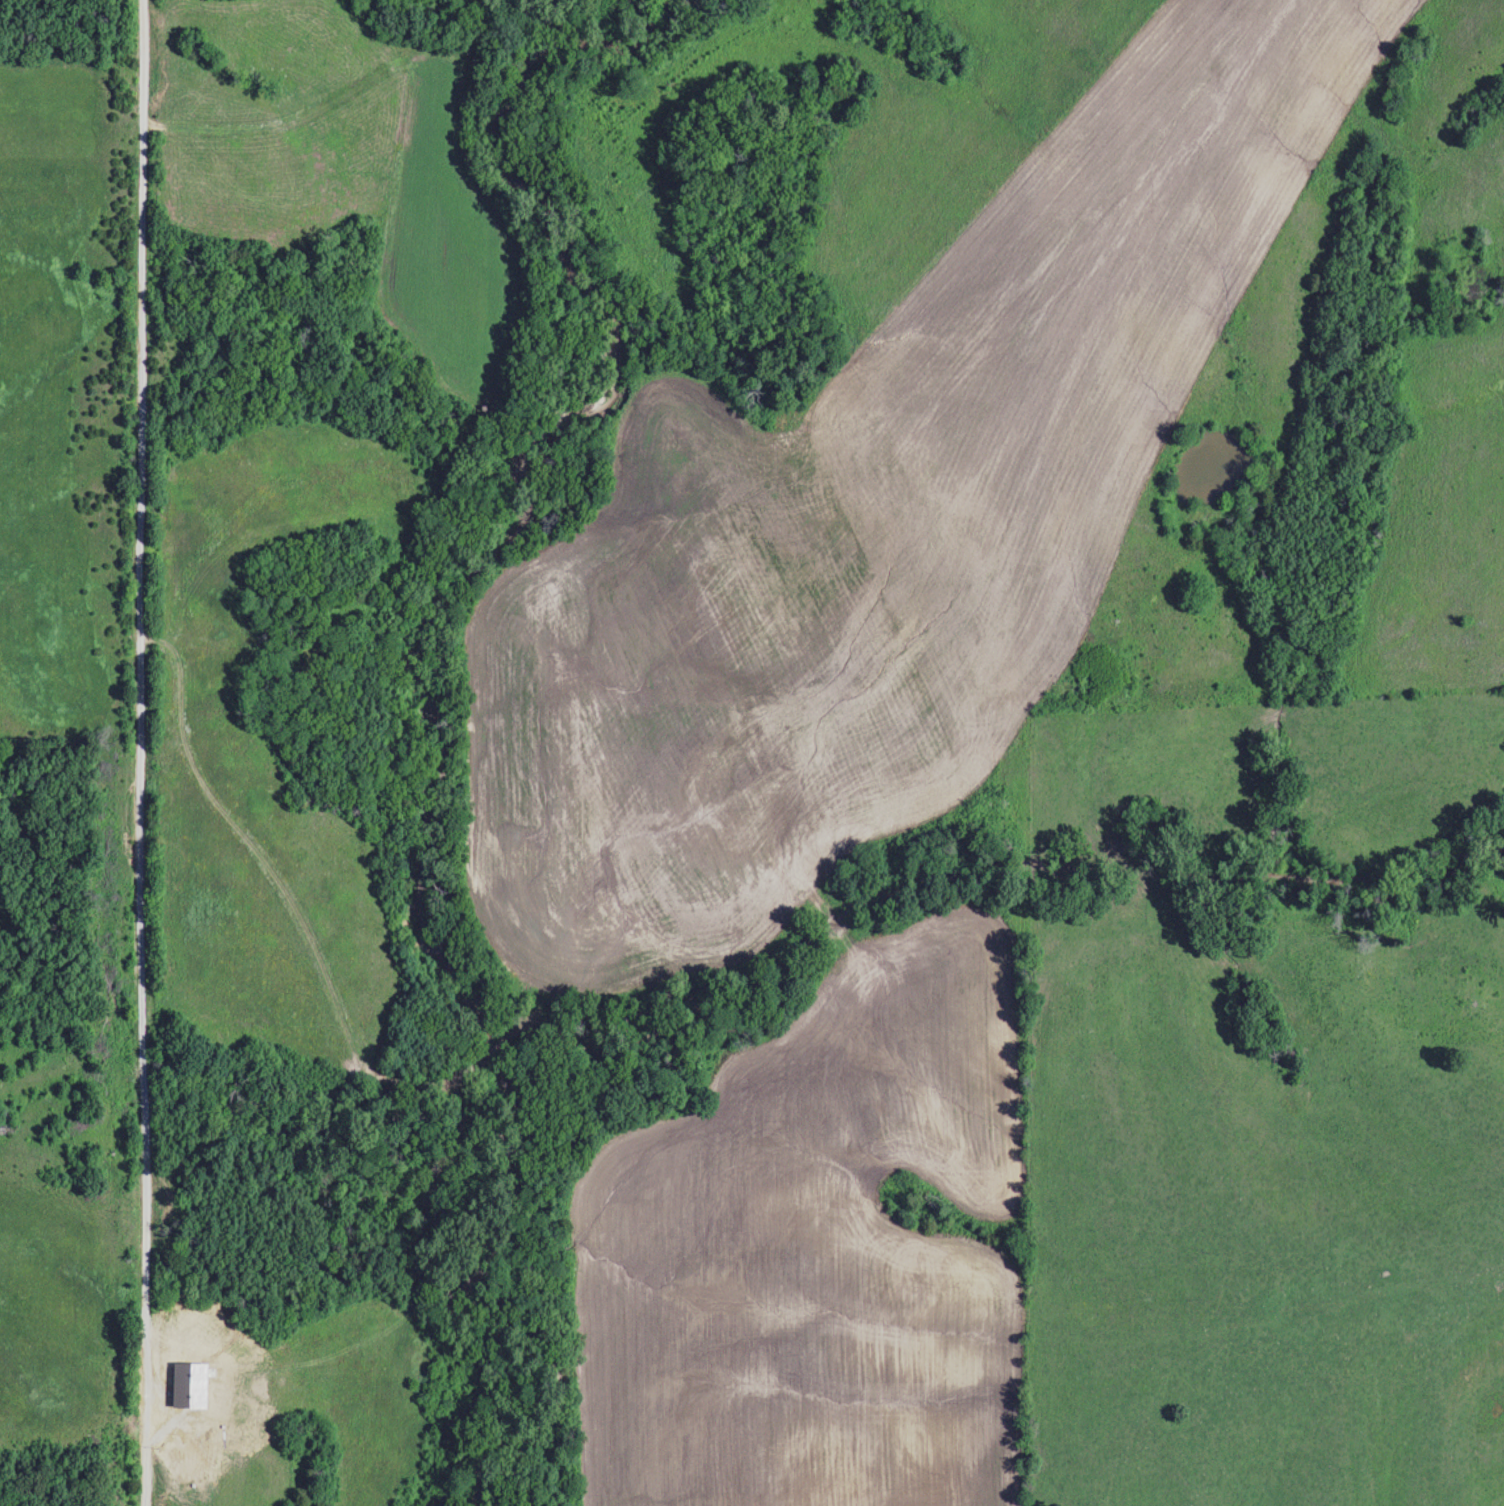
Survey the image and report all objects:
road: (138, 752)

